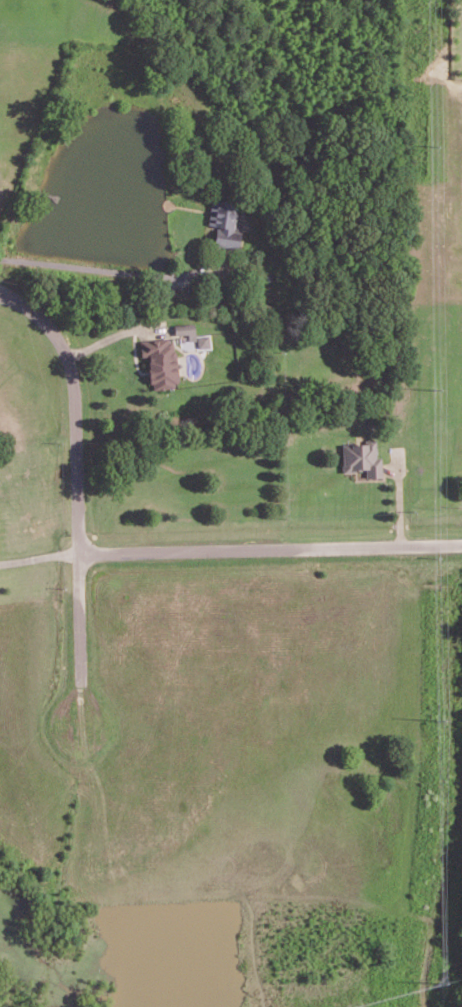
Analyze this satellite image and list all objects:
power tower: (431, 141)
building: (224, 225)
road: (111, 270)
road: (112, 336)
building: (191, 336)
building: (160, 361)
power tower: (436, 387)
building: (361, 458)
road: (271, 548)
road: (81, 550)
road: (40, 557)
power tower: (438, 718)
power tower: (444, 983)

